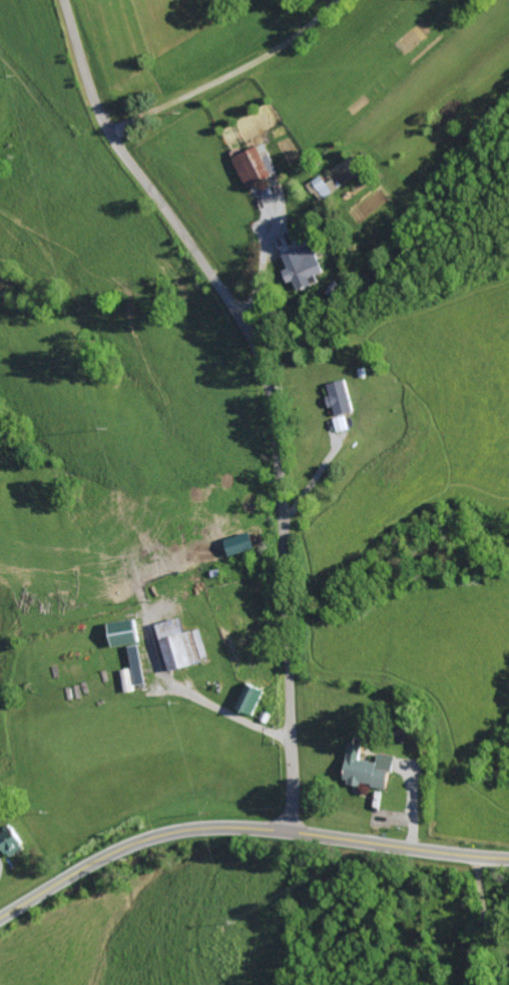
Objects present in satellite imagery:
road: (227, 74)
building: (255, 165)
building: (302, 267)
road: (267, 391)
building: (342, 397)
building: (343, 423)
building: (243, 543)
building: (128, 632)
building: (185, 645)
building: (141, 665)
building: (251, 698)
road: (201, 699)
building: (371, 769)
road: (244, 830)
building: (12, 842)

